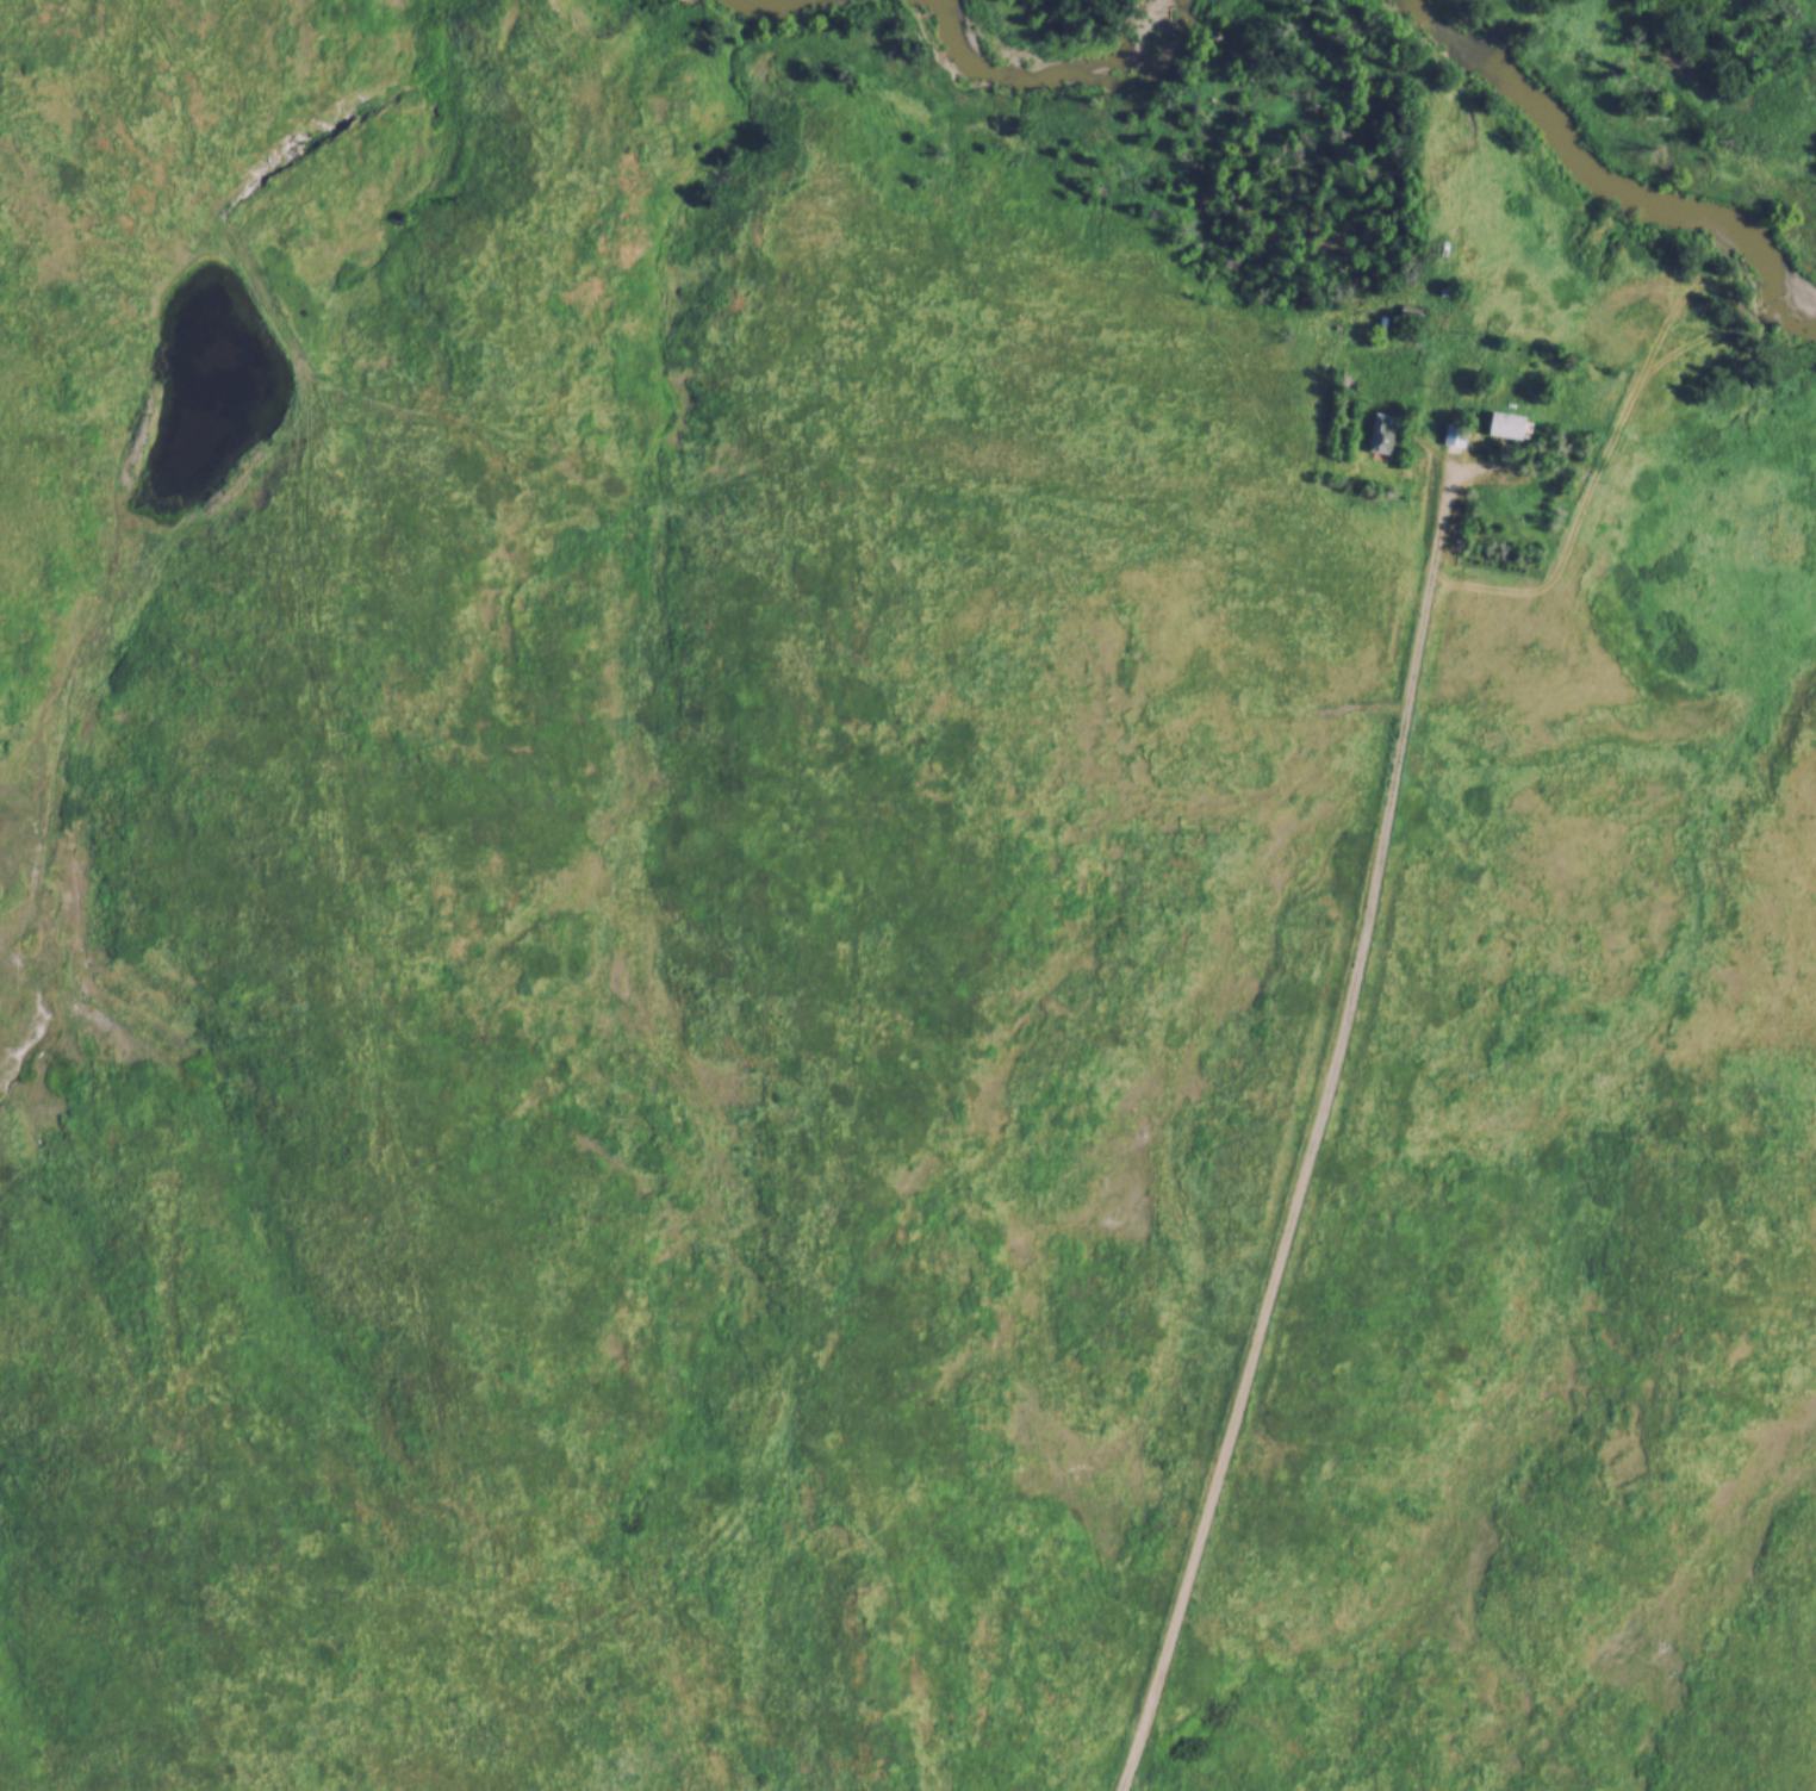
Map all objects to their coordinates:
river: (1065, 68)
river: (1609, 194)
building: (1504, 427)
building: (1381, 435)
building: (1454, 436)

